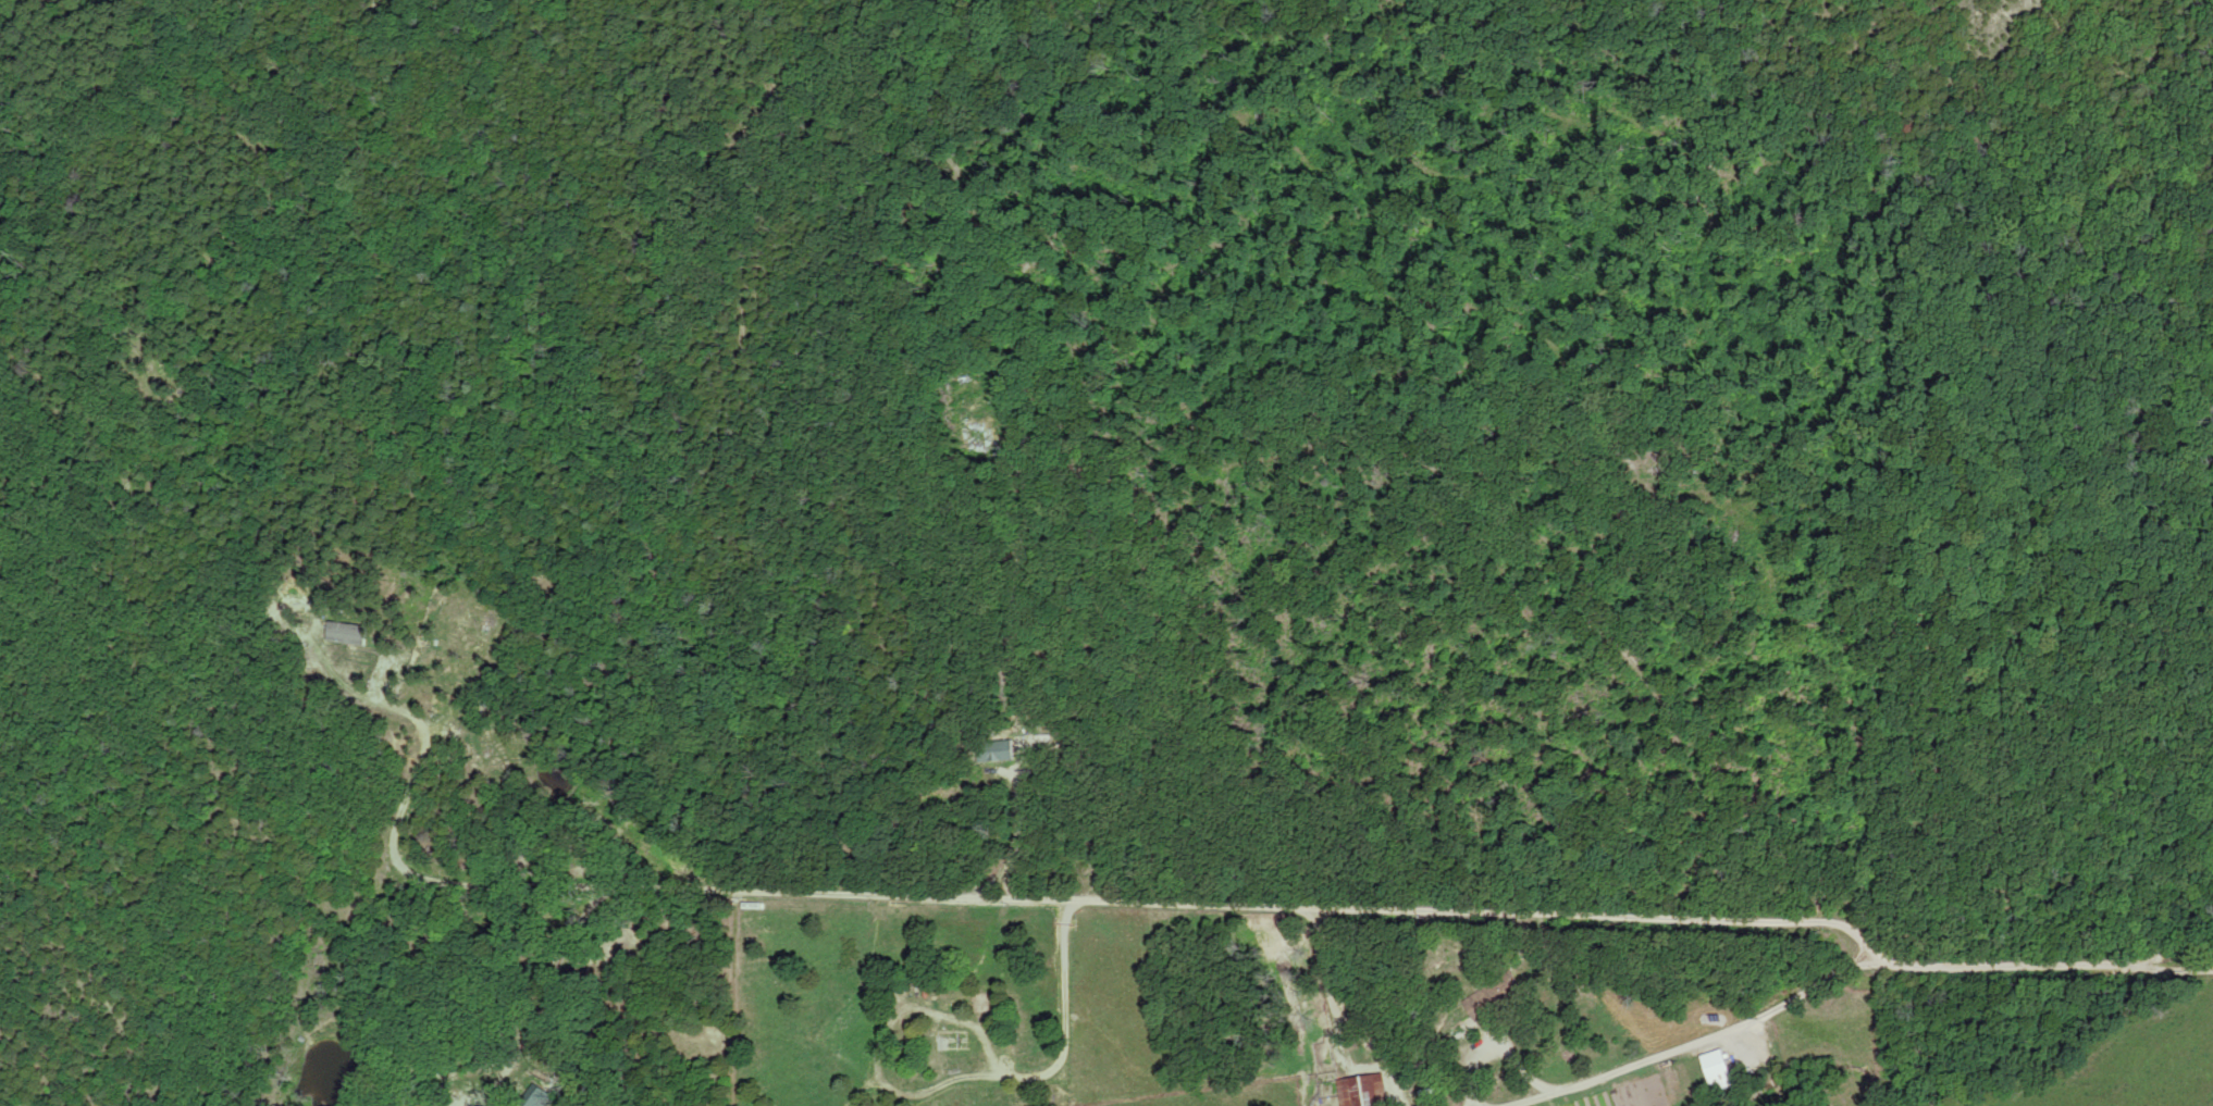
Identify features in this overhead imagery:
road: (1768, 448)
road: (1968, 637)
road: (1603, 922)
road: (2042, 970)
building: (1480, 1006)
road: (1333, 1022)
building: (952, 1041)
road: (1701, 1043)
road: (1338, 1049)
building: (1718, 1070)
building: (1373, 1090)

